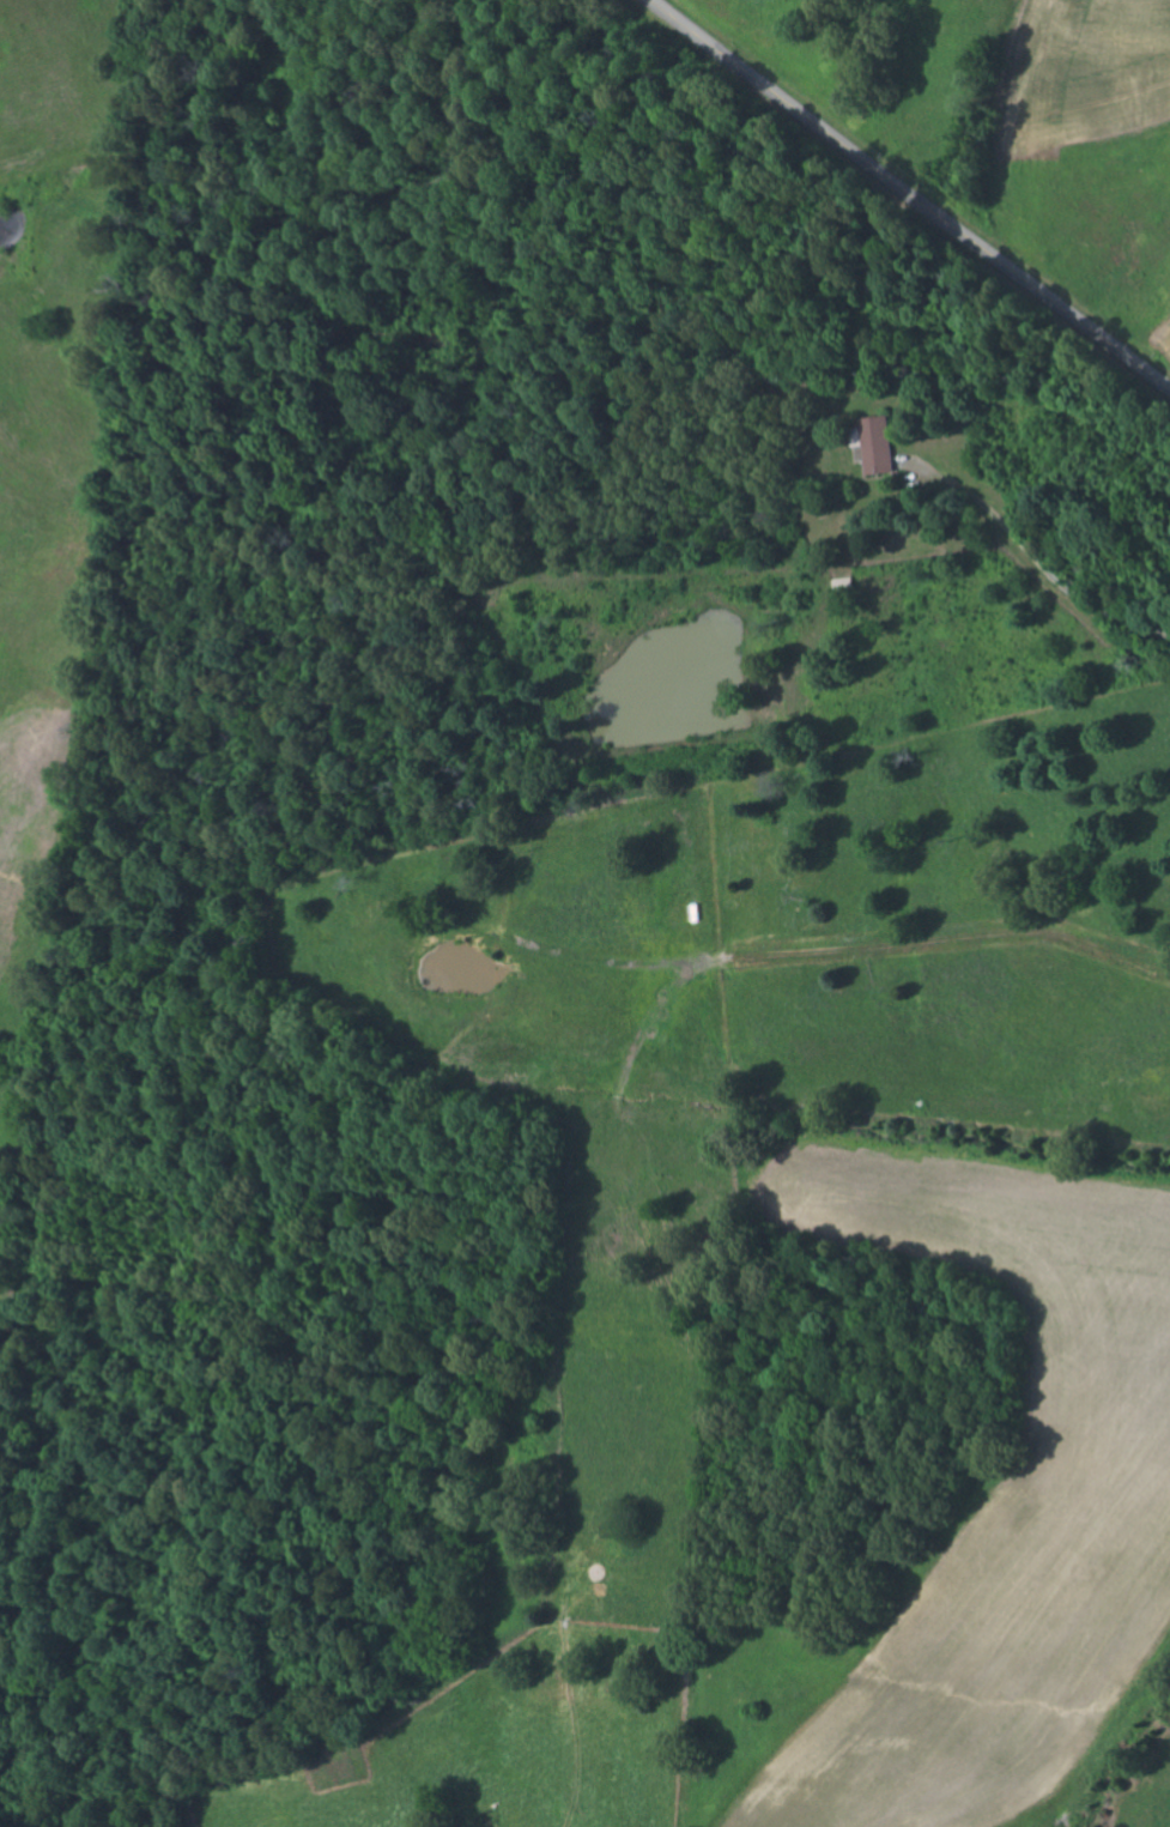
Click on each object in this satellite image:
road: (910, 195)
building: (880, 444)
road: (1035, 557)

